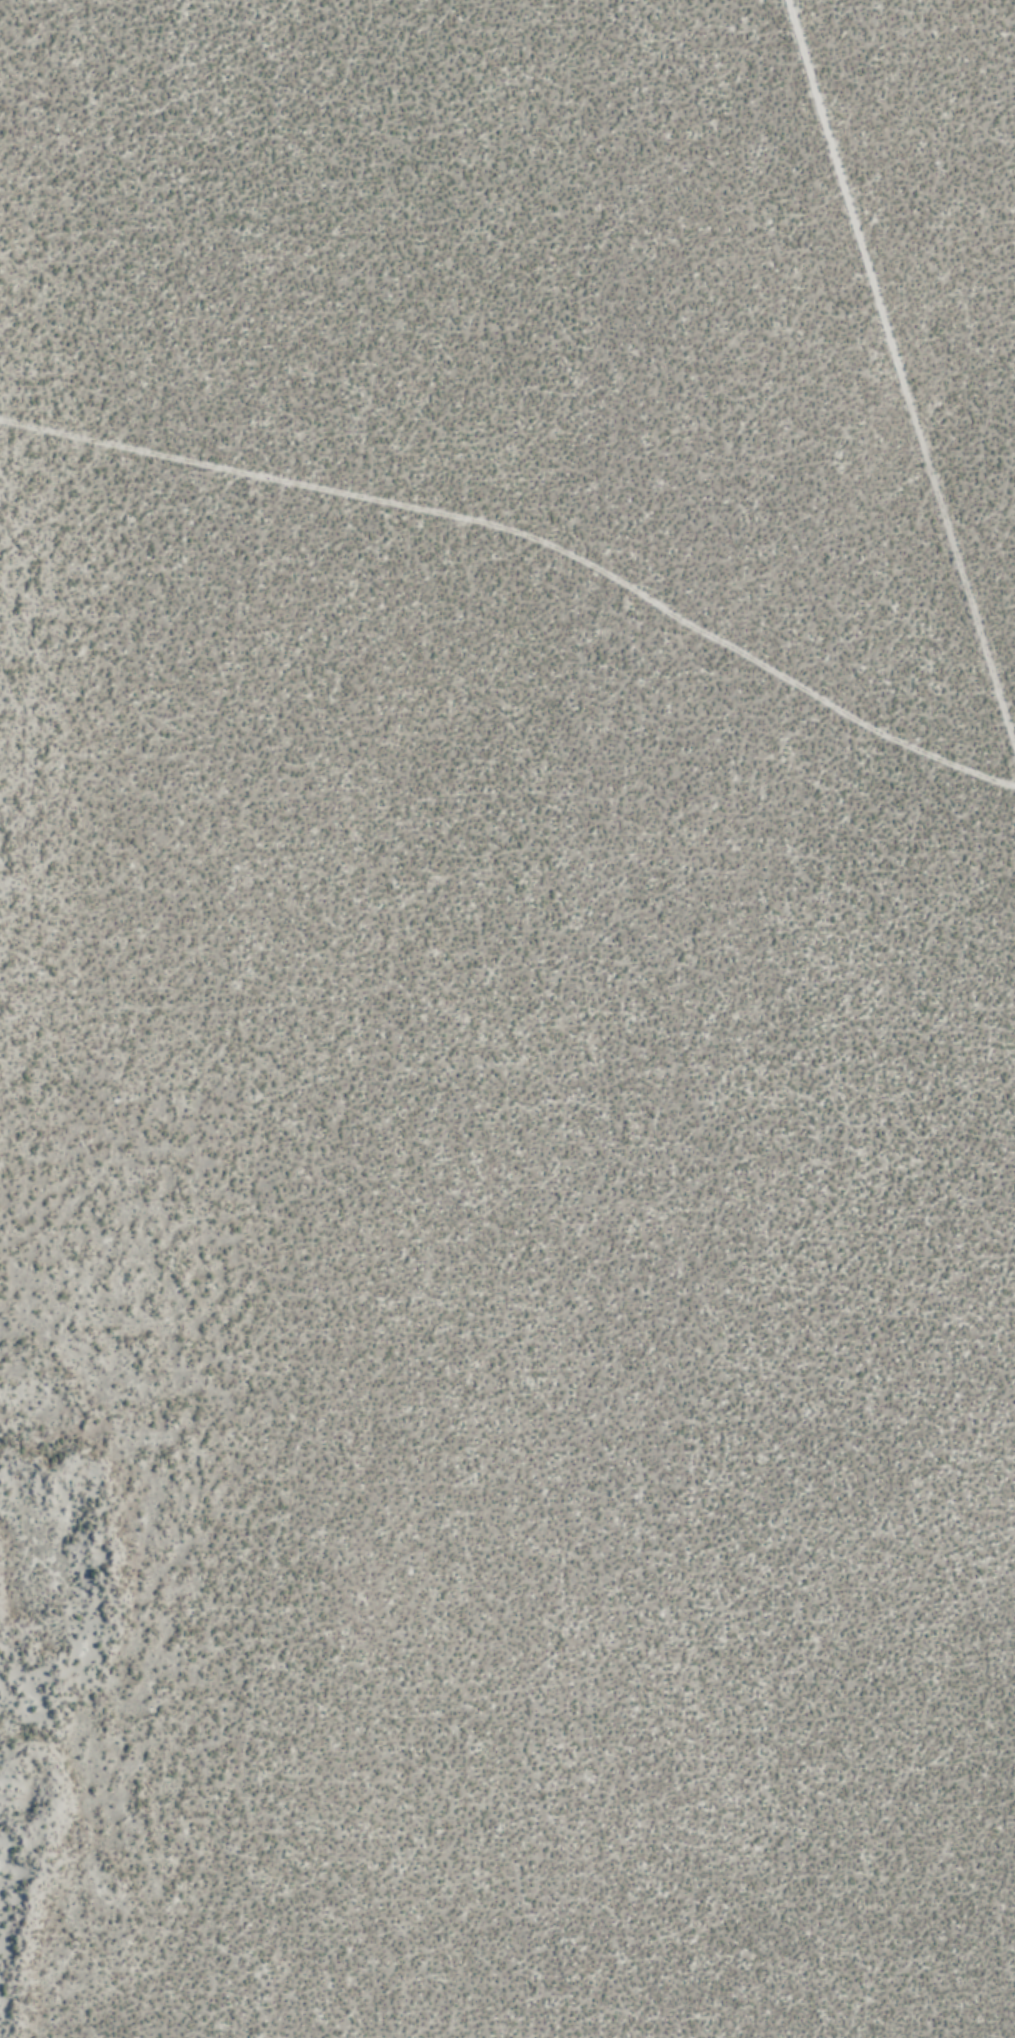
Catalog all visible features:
road: (901, 372)

